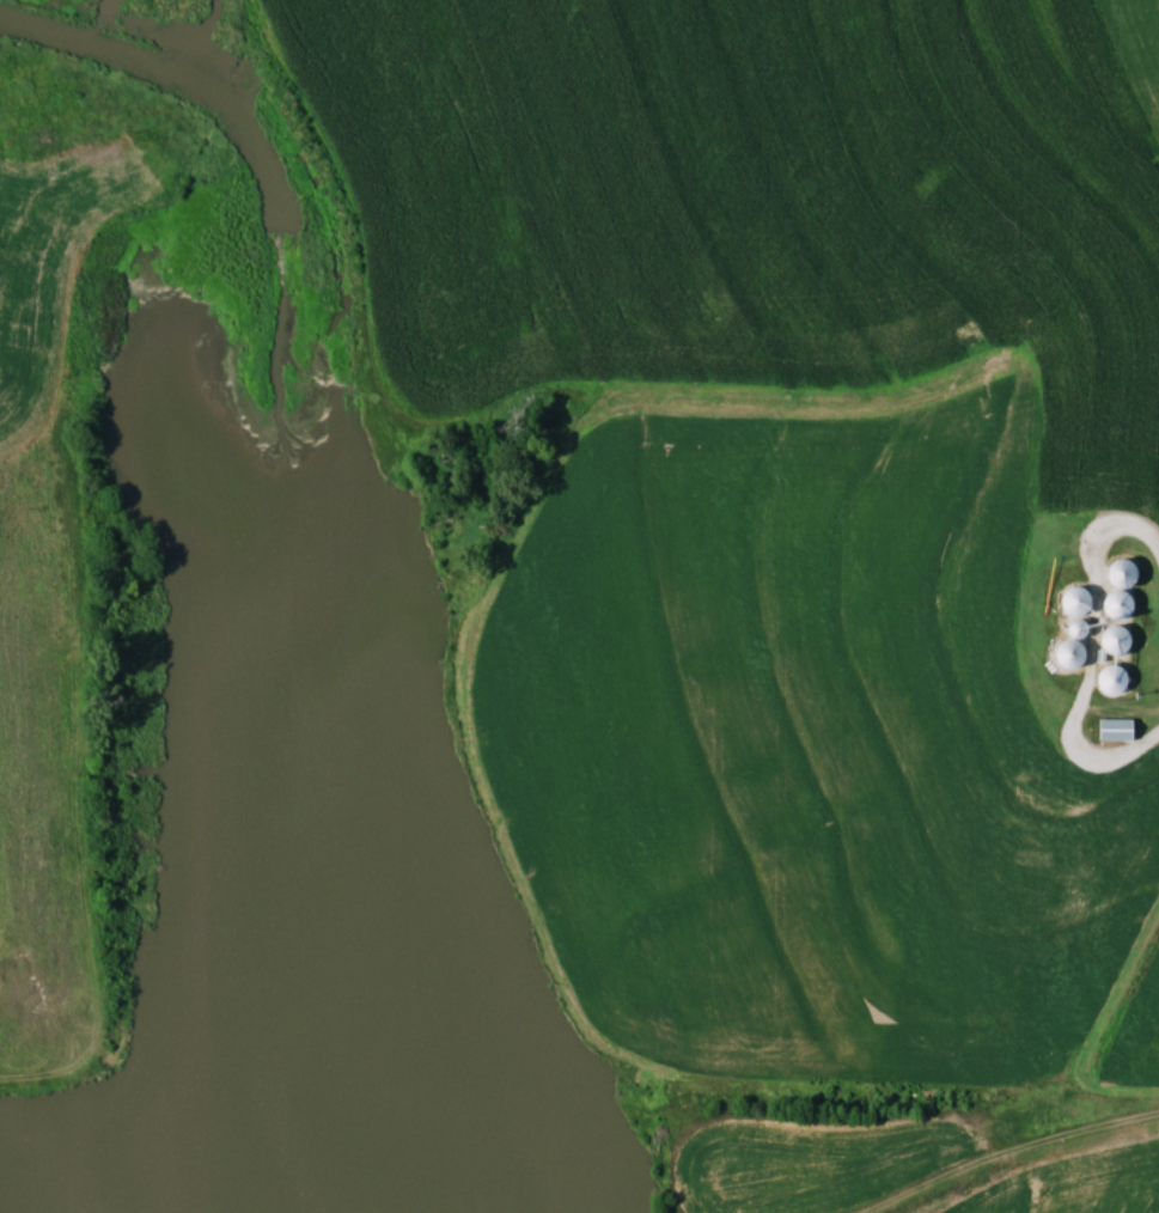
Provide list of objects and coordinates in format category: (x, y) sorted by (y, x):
building: (1114, 572)
building: (1111, 604)
building: (1110, 638)
road: (1091, 648)
building: (1110, 729)

